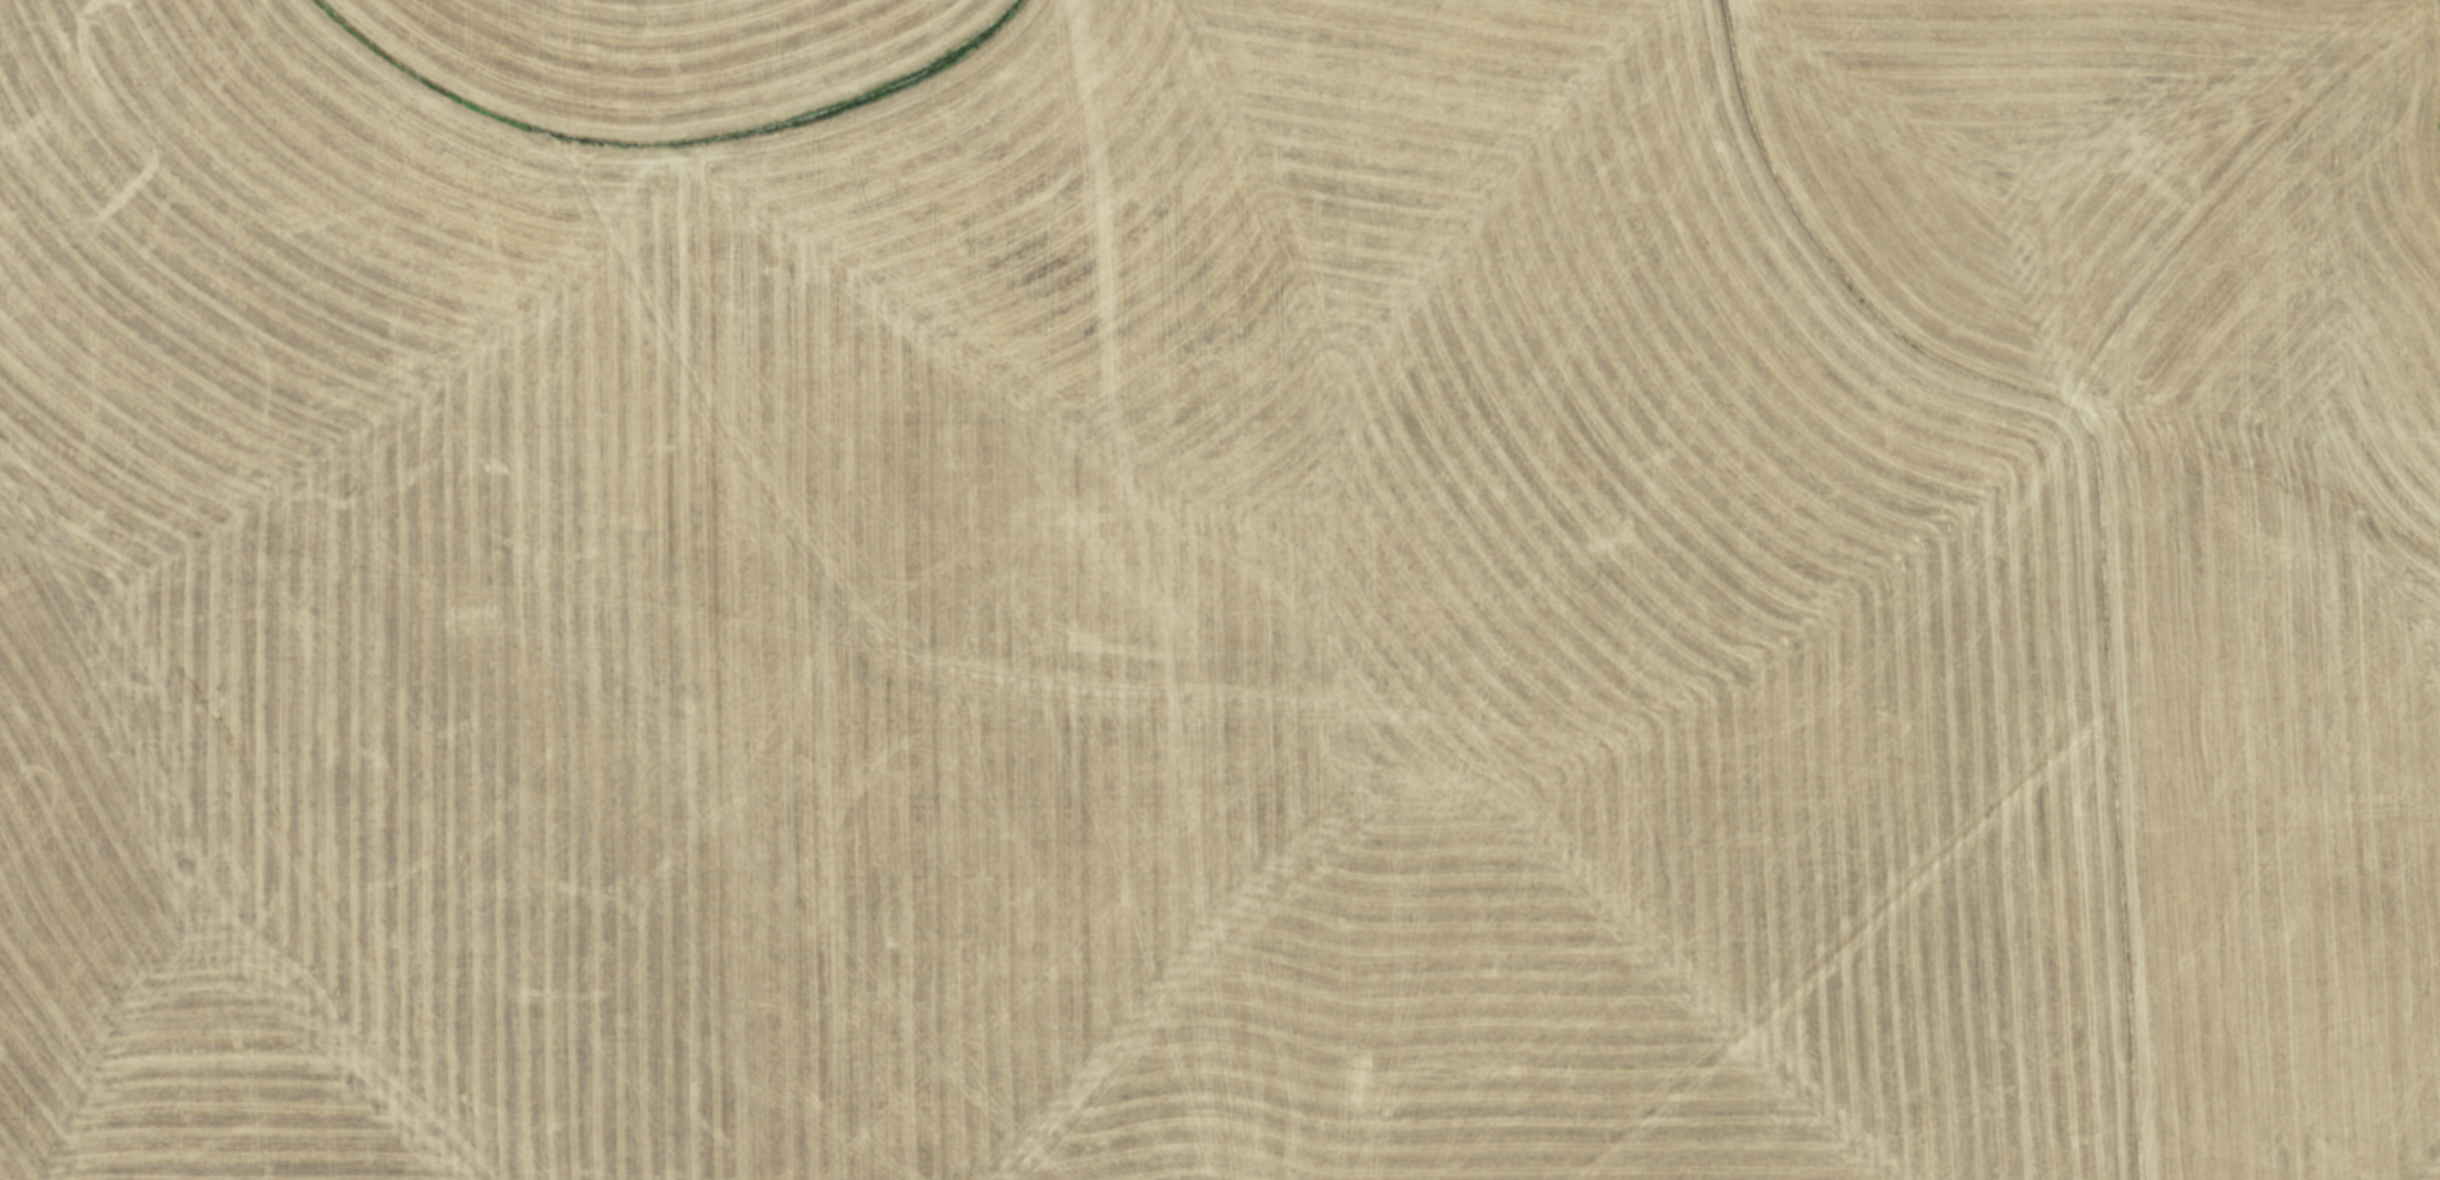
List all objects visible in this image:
crop: (1220, 590)

